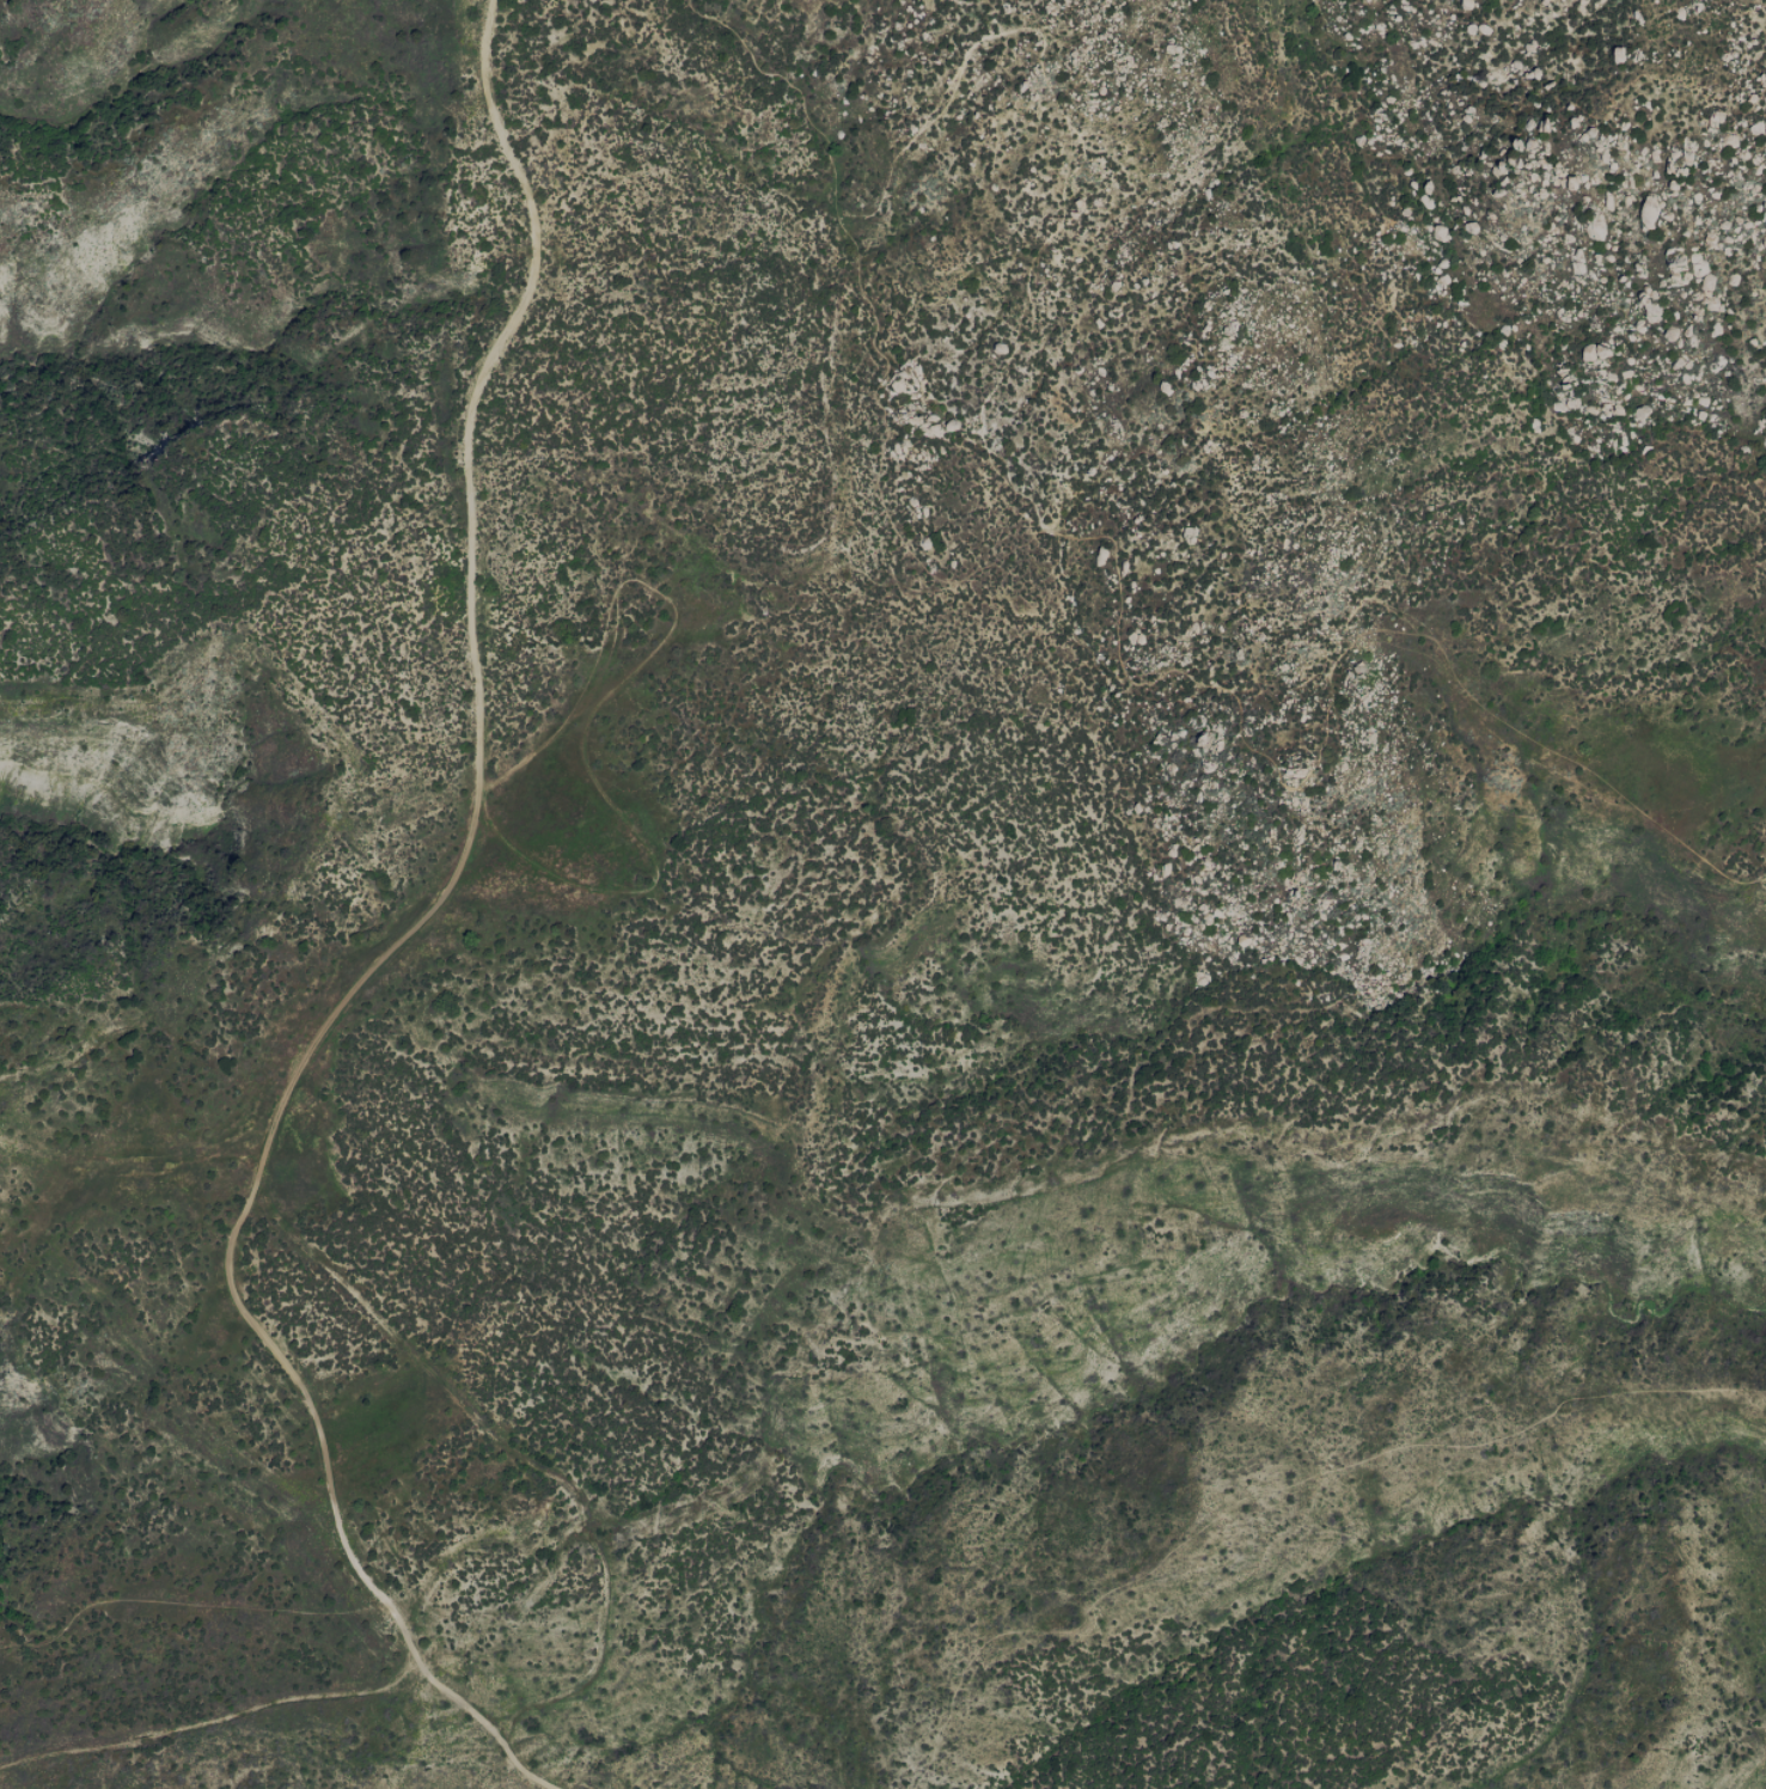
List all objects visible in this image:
road: (331, 948)

